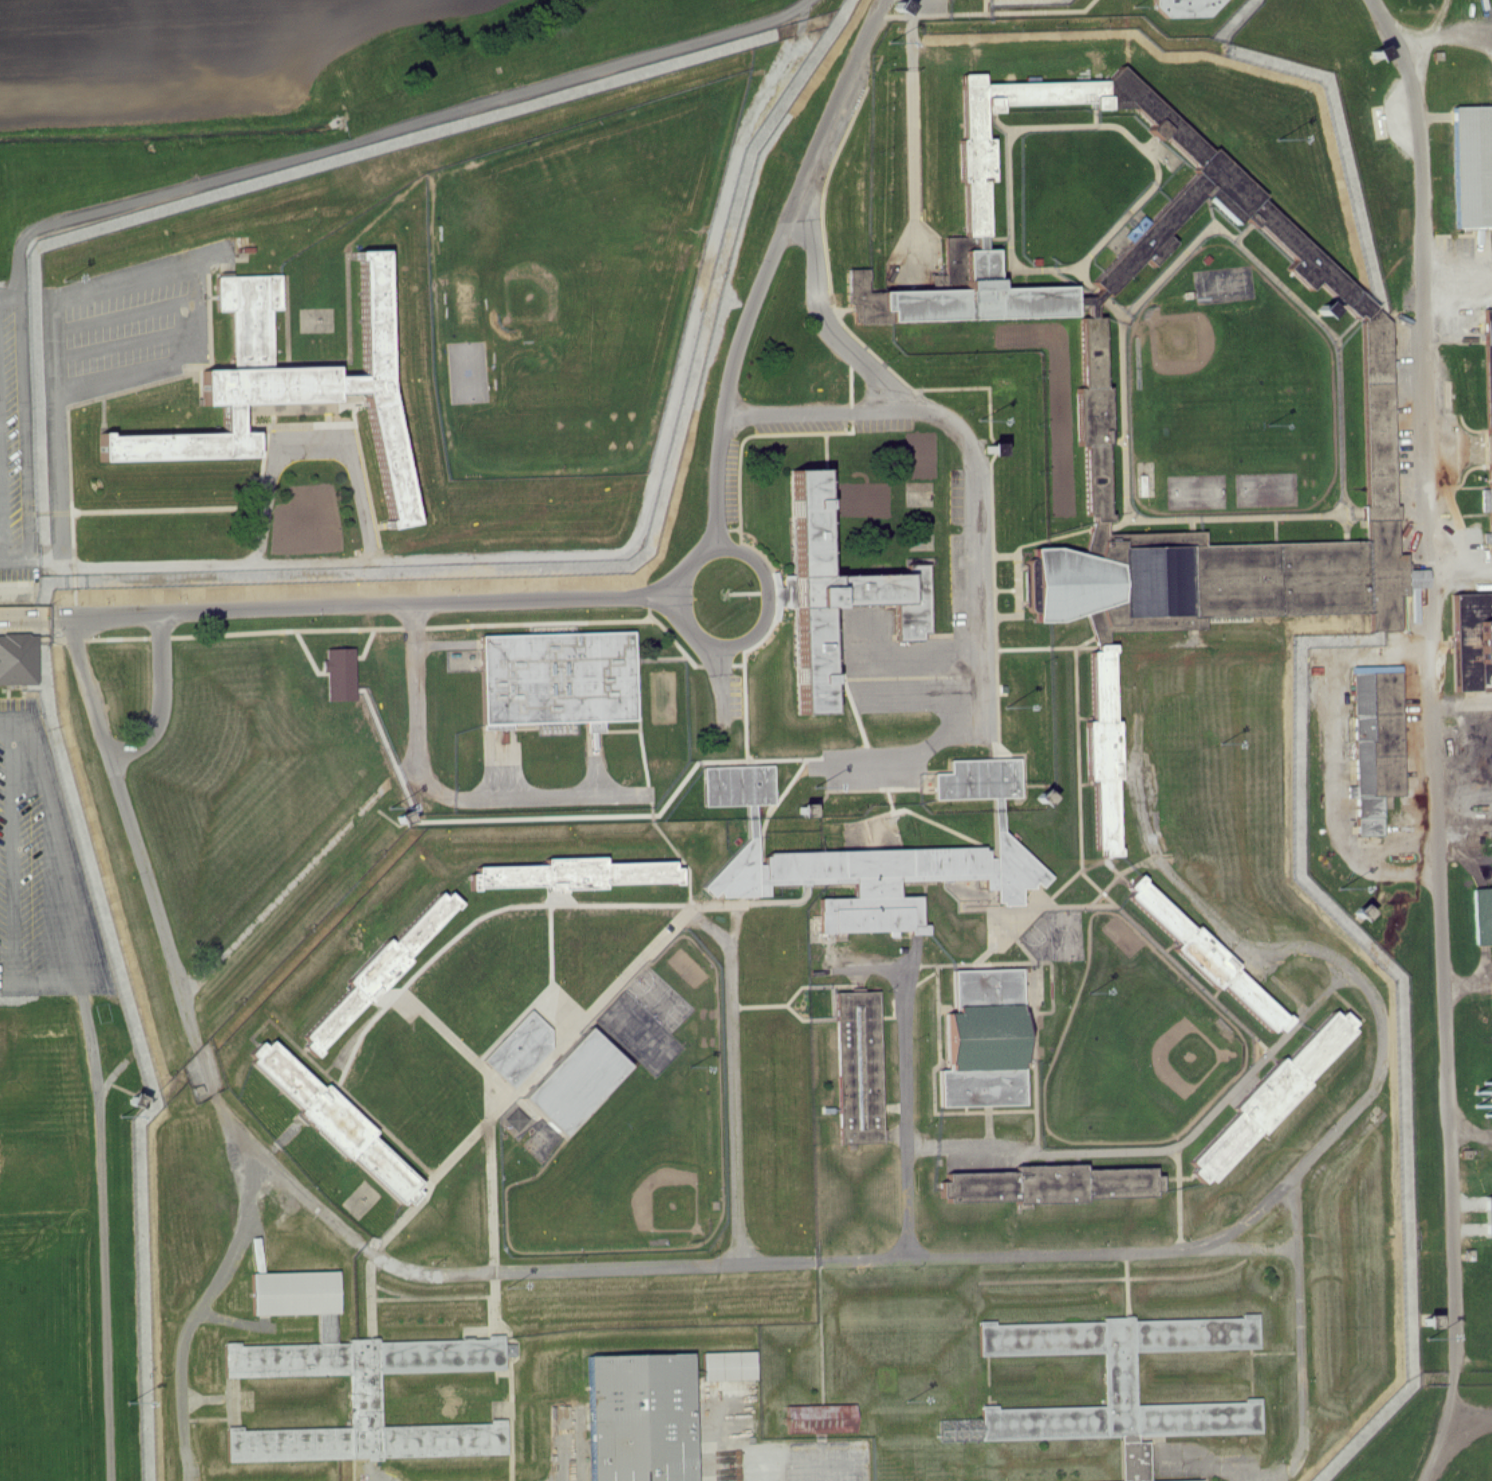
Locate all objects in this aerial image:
building: (1185, 8)
road: (1447, 36)
building: (1025, 95)
road: (384, 130)
building: (1473, 166)
building: (940, 296)
building: (376, 299)
building: (222, 378)
building: (1098, 510)
road: (1, 525)
building: (848, 575)
building: (1133, 617)
building: (17, 660)
building: (559, 678)
road: (1445, 737)
building: (1377, 755)
building: (980, 780)
building: (753, 830)
building: (1003, 843)
road: (16, 855)
building: (876, 882)
road: (63, 883)
building: (1483, 915)
building: (987, 1040)
building: (858, 1067)
building: (1216, 1158)
building: (1020, 1185)
road: (112, 1229)
building: (730, 1366)
building: (1138, 1383)
building: (361, 1384)
road: (1473, 1413)
building: (644, 1417)
building: (822, 1419)
building: (1197, 1480)

